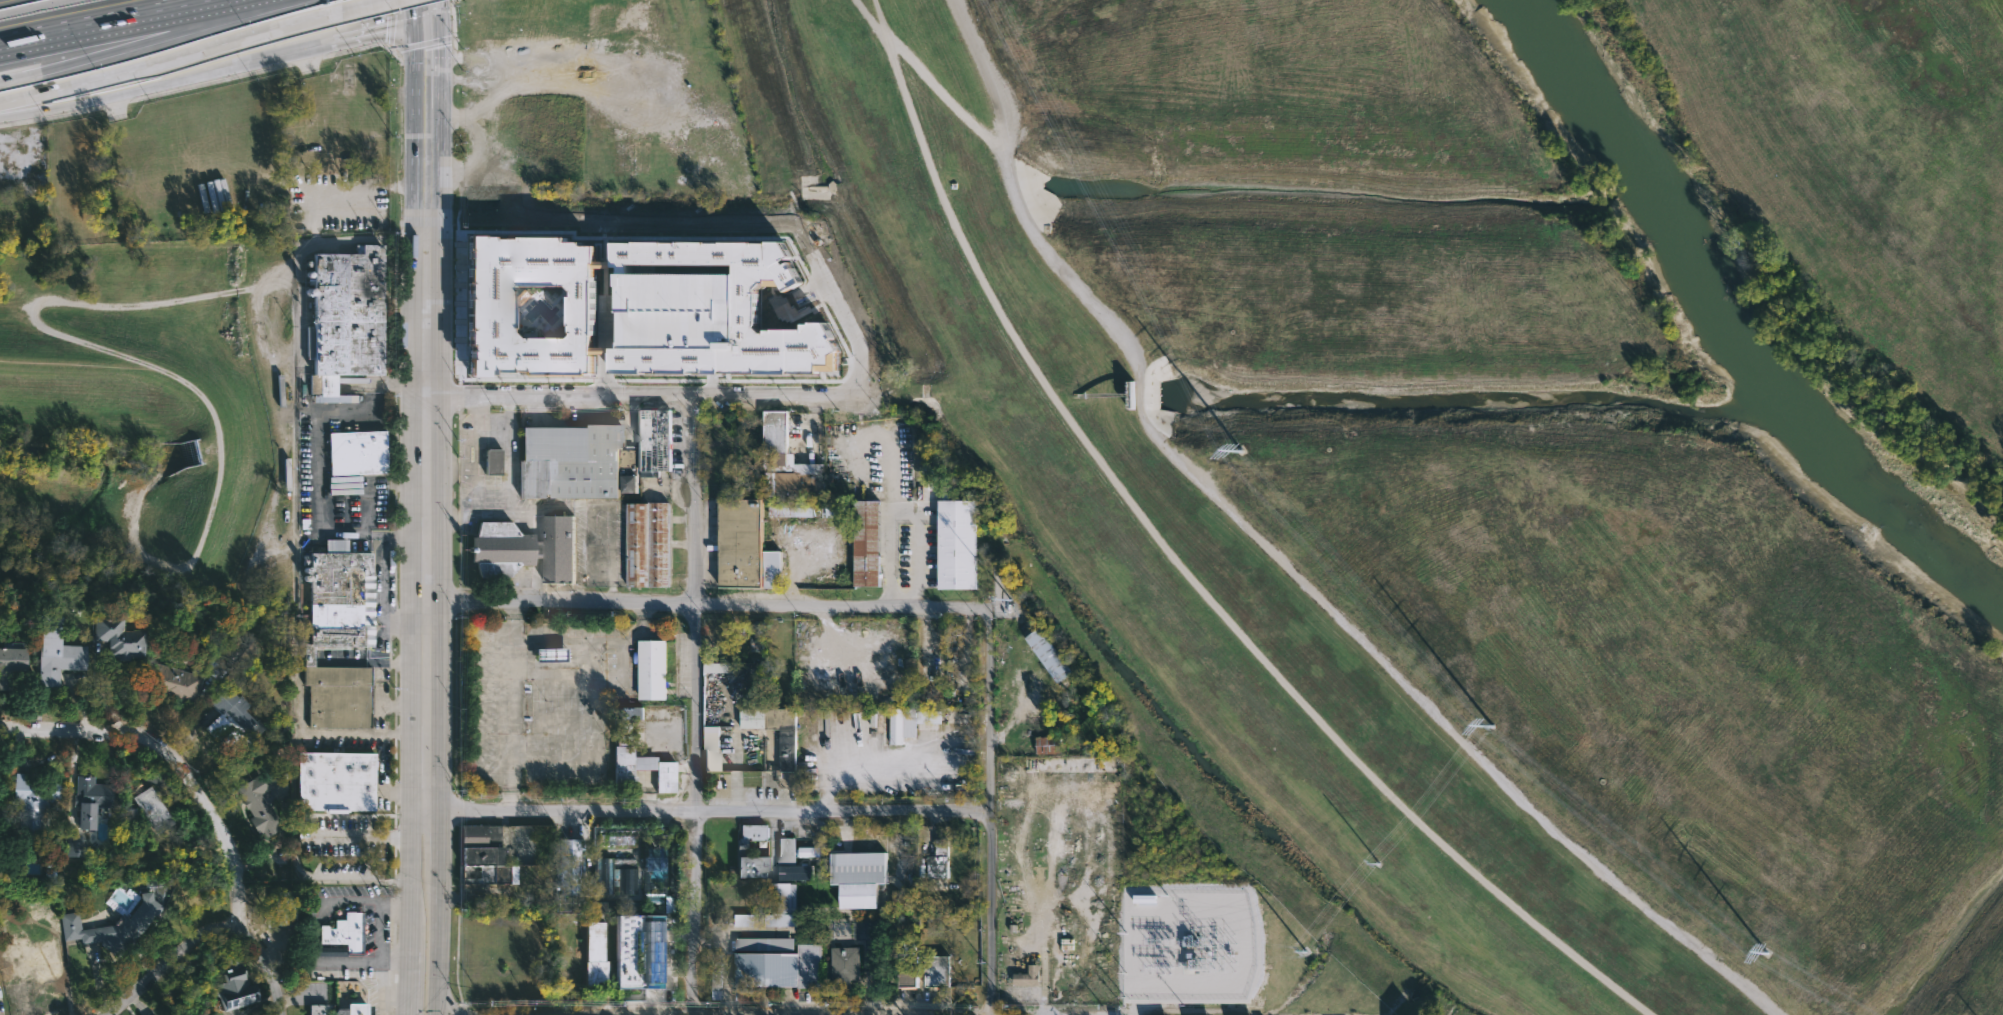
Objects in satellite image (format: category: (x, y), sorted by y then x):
road: (357, 5)
road: (413, 10)
road: (371, 15)
traffic signals: (441, 19)
road: (427, 20)
road: (101, 21)
traffic signals: (413, 21)
road: (102, 39)
road: (168, 61)
road: (207, 72)
road: (19, 75)
road: (932, 76)
road: (439, 78)
road: (411, 89)
road: (307, 243)
building: (530, 306)
river: (1738, 307)
building: (711, 312)
building: (349, 319)
road: (846, 332)
road: (397, 381)
road: (639, 397)
park: (151, 418)
park: (1523, 441)
building: (655, 442)
building: (360, 452)
power tower: (1241, 452)
road: (881, 460)
building: (493, 461)
building: (570, 461)
building: (788, 461)
road: (426, 484)
building: (630, 484)
building: (869, 543)
building: (648, 544)
building: (959, 544)
building: (746, 547)
building: (526, 548)
road: (116, 556)
road: (885, 556)
road: (1282, 560)
road: (909, 565)
road: (1183, 566)
road: (381, 584)
road: (709, 608)
building: (339, 636)
building: (121, 637)
building: (553, 655)
building: (1052, 655)
building: (59, 662)
road: (394, 662)
building: (12, 663)
building: (733, 667)
building: (653, 670)
building: (176, 682)
road: (402, 705)
road: (701, 706)
building: (929, 716)
building: (233, 719)
building: (626, 723)
building: (903, 726)
power tower: (1491, 726)
road: (380, 732)
building: (1049, 745)
building: (712, 749)
building: (789, 749)
road: (176, 761)
building: (629, 769)
road: (991, 780)
building: (336, 781)
building: (34, 797)
building: (91, 800)
building: (260, 802)
building: (147, 807)
road: (708, 812)
road: (357, 835)
building: (752, 835)
building: (614, 837)
road: (438, 839)
building: (75, 848)
building: (787, 850)
building: (810, 852)
building: (485, 857)
building: (940, 861)
power tower: (1375, 864)
building: (570, 867)
building: (753, 867)
building: (614, 876)
building: (861, 878)
building: (635, 880)
road: (408, 881)
building: (908, 900)
building: (284, 909)
building: (779, 910)
building: (113, 927)
building: (345, 937)
building: (596, 940)
road: (436, 942)
building: (640, 953)
power tower: (1302, 953)
power substation: (1181, 955)
power tower: (1771, 955)
building: (25, 963)
building: (778, 963)
road: (167, 964)
road: (265, 964)
building: (911, 967)
building: (846, 968)
building: (576, 969)
building: (938, 972)
building: (715, 976)
building: (1028, 977)
road: (1043, 982)
building: (235, 985)
road: (403, 985)
road: (447, 1005)
building: (318, 1009)
building: (352, 1009)
road: (459, 1009)

